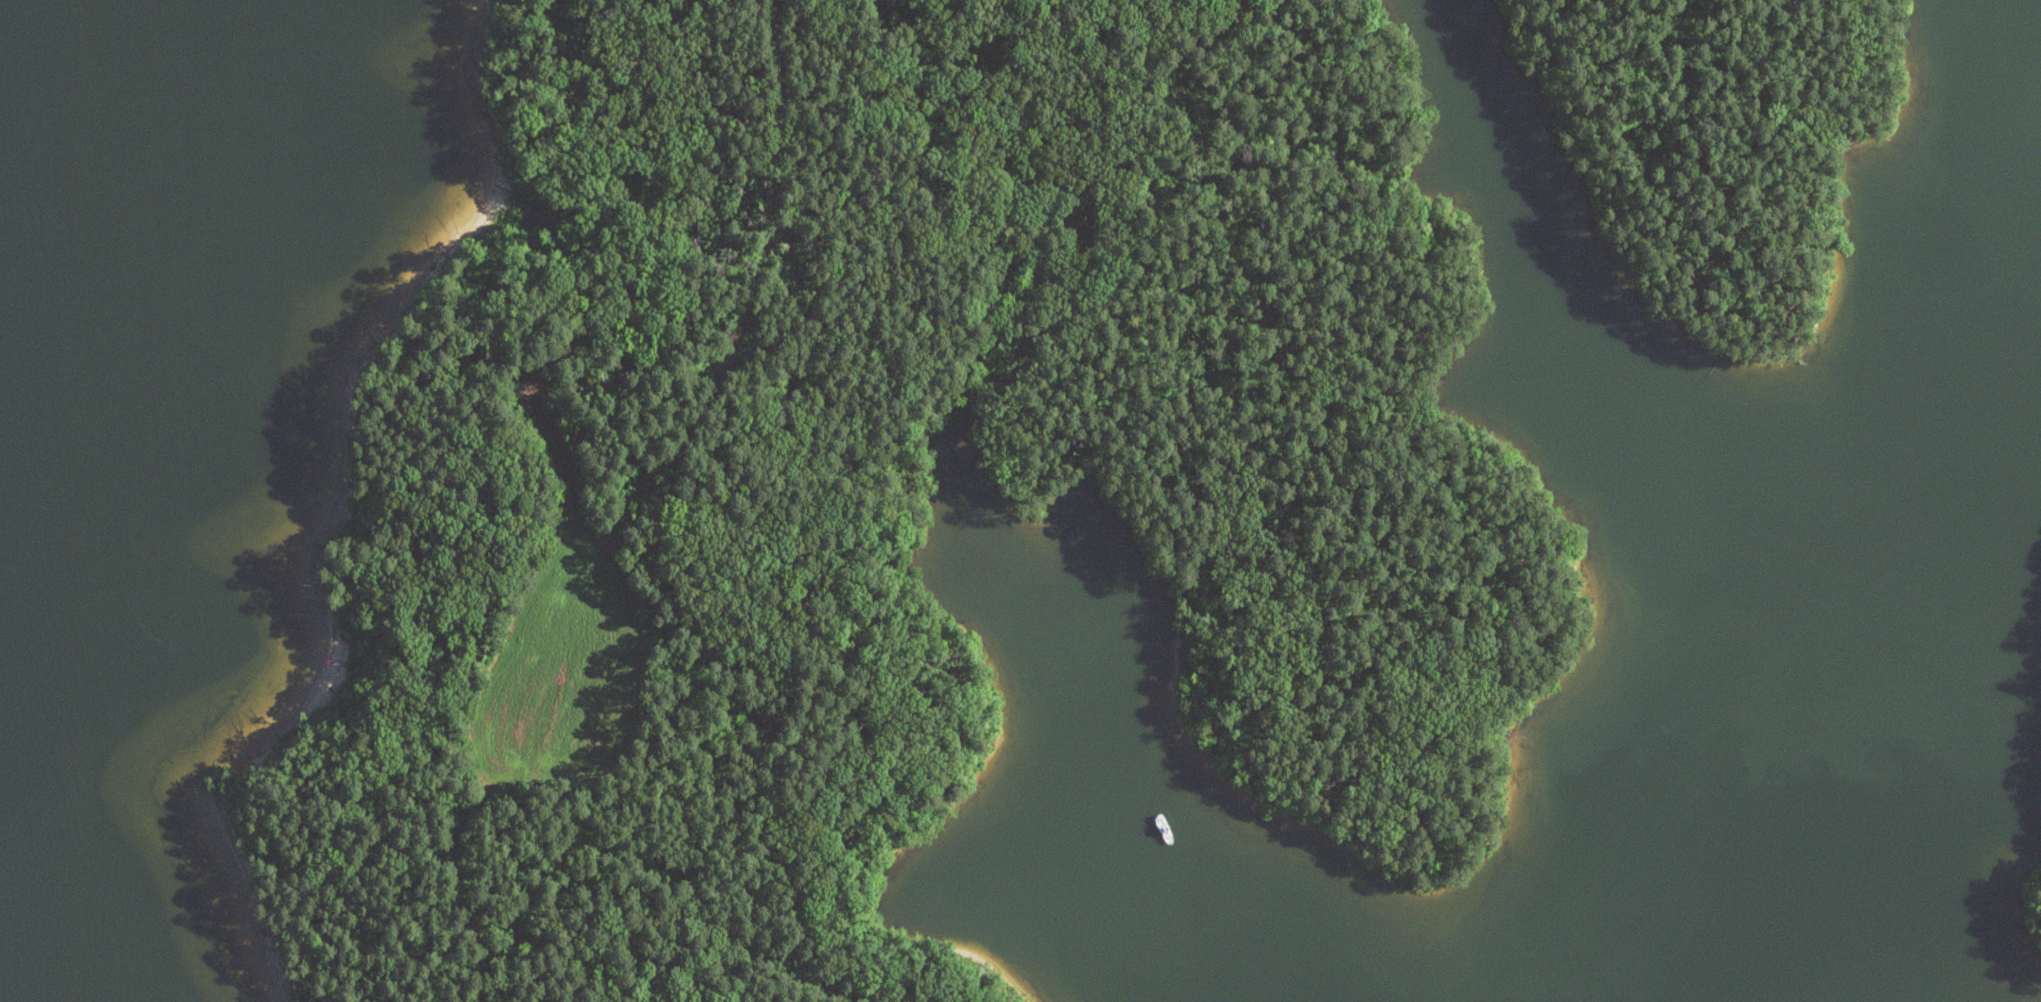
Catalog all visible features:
road: (608, 504)

